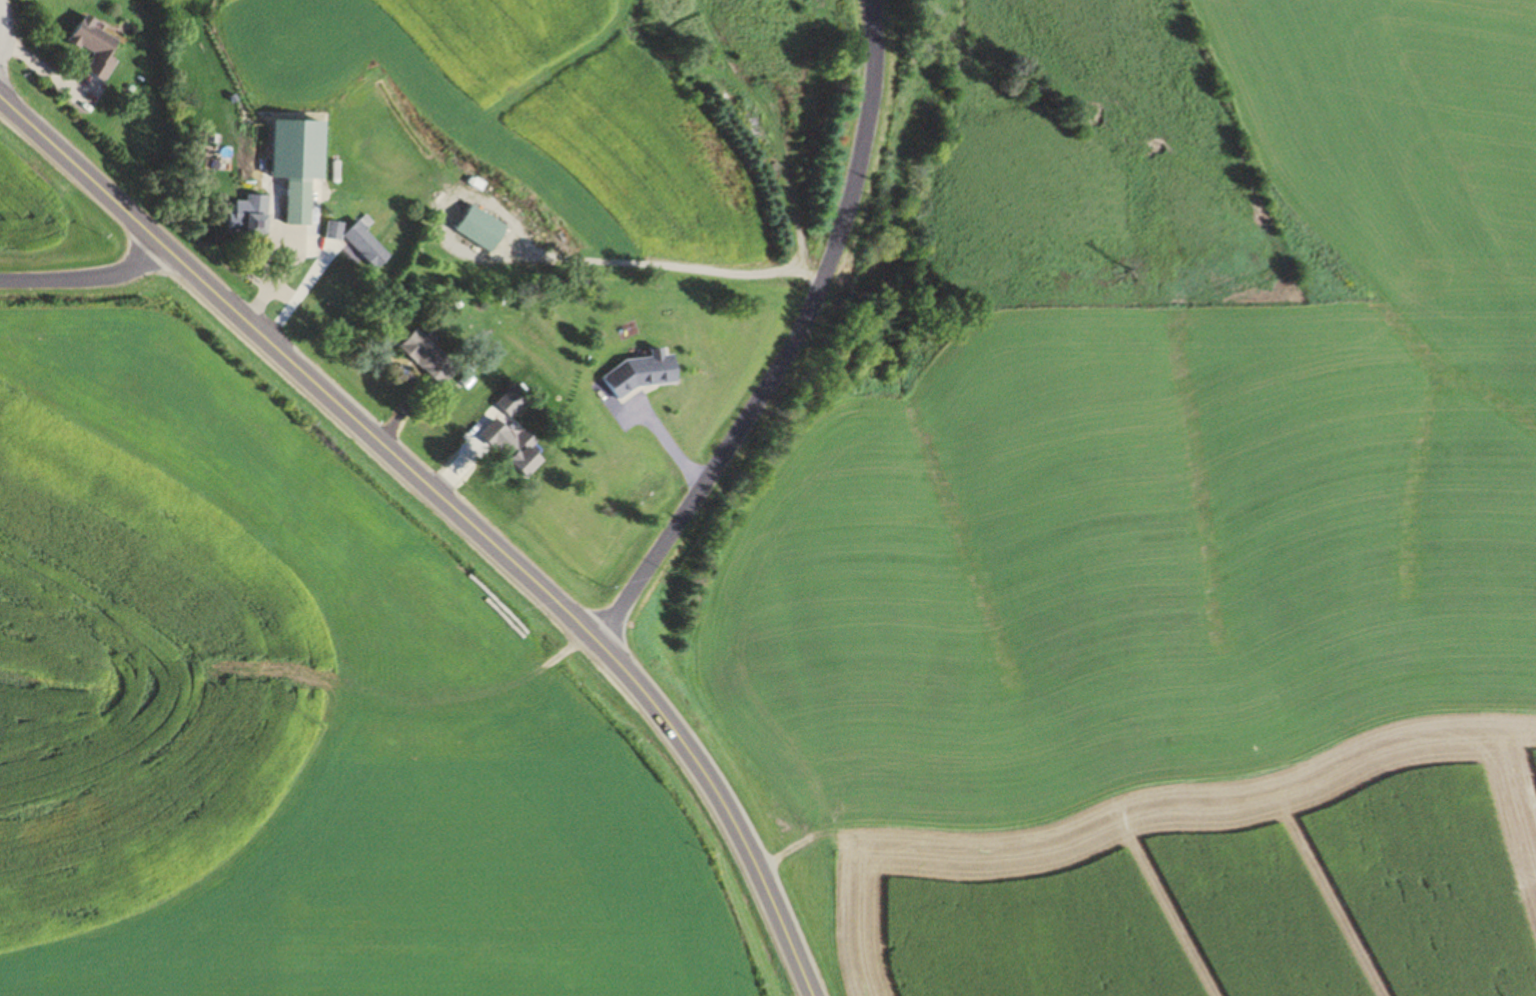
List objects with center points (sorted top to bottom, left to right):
road: (8, 21)
building: (101, 48)
building: (283, 140)
road: (859, 165)
building: (330, 171)
building: (287, 202)
building: (241, 217)
building: (472, 226)
building: (352, 241)
road: (87, 278)
building: (420, 356)
building: (637, 371)
building: (501, 446)
road: (701, 483)
road: (451, 509)

